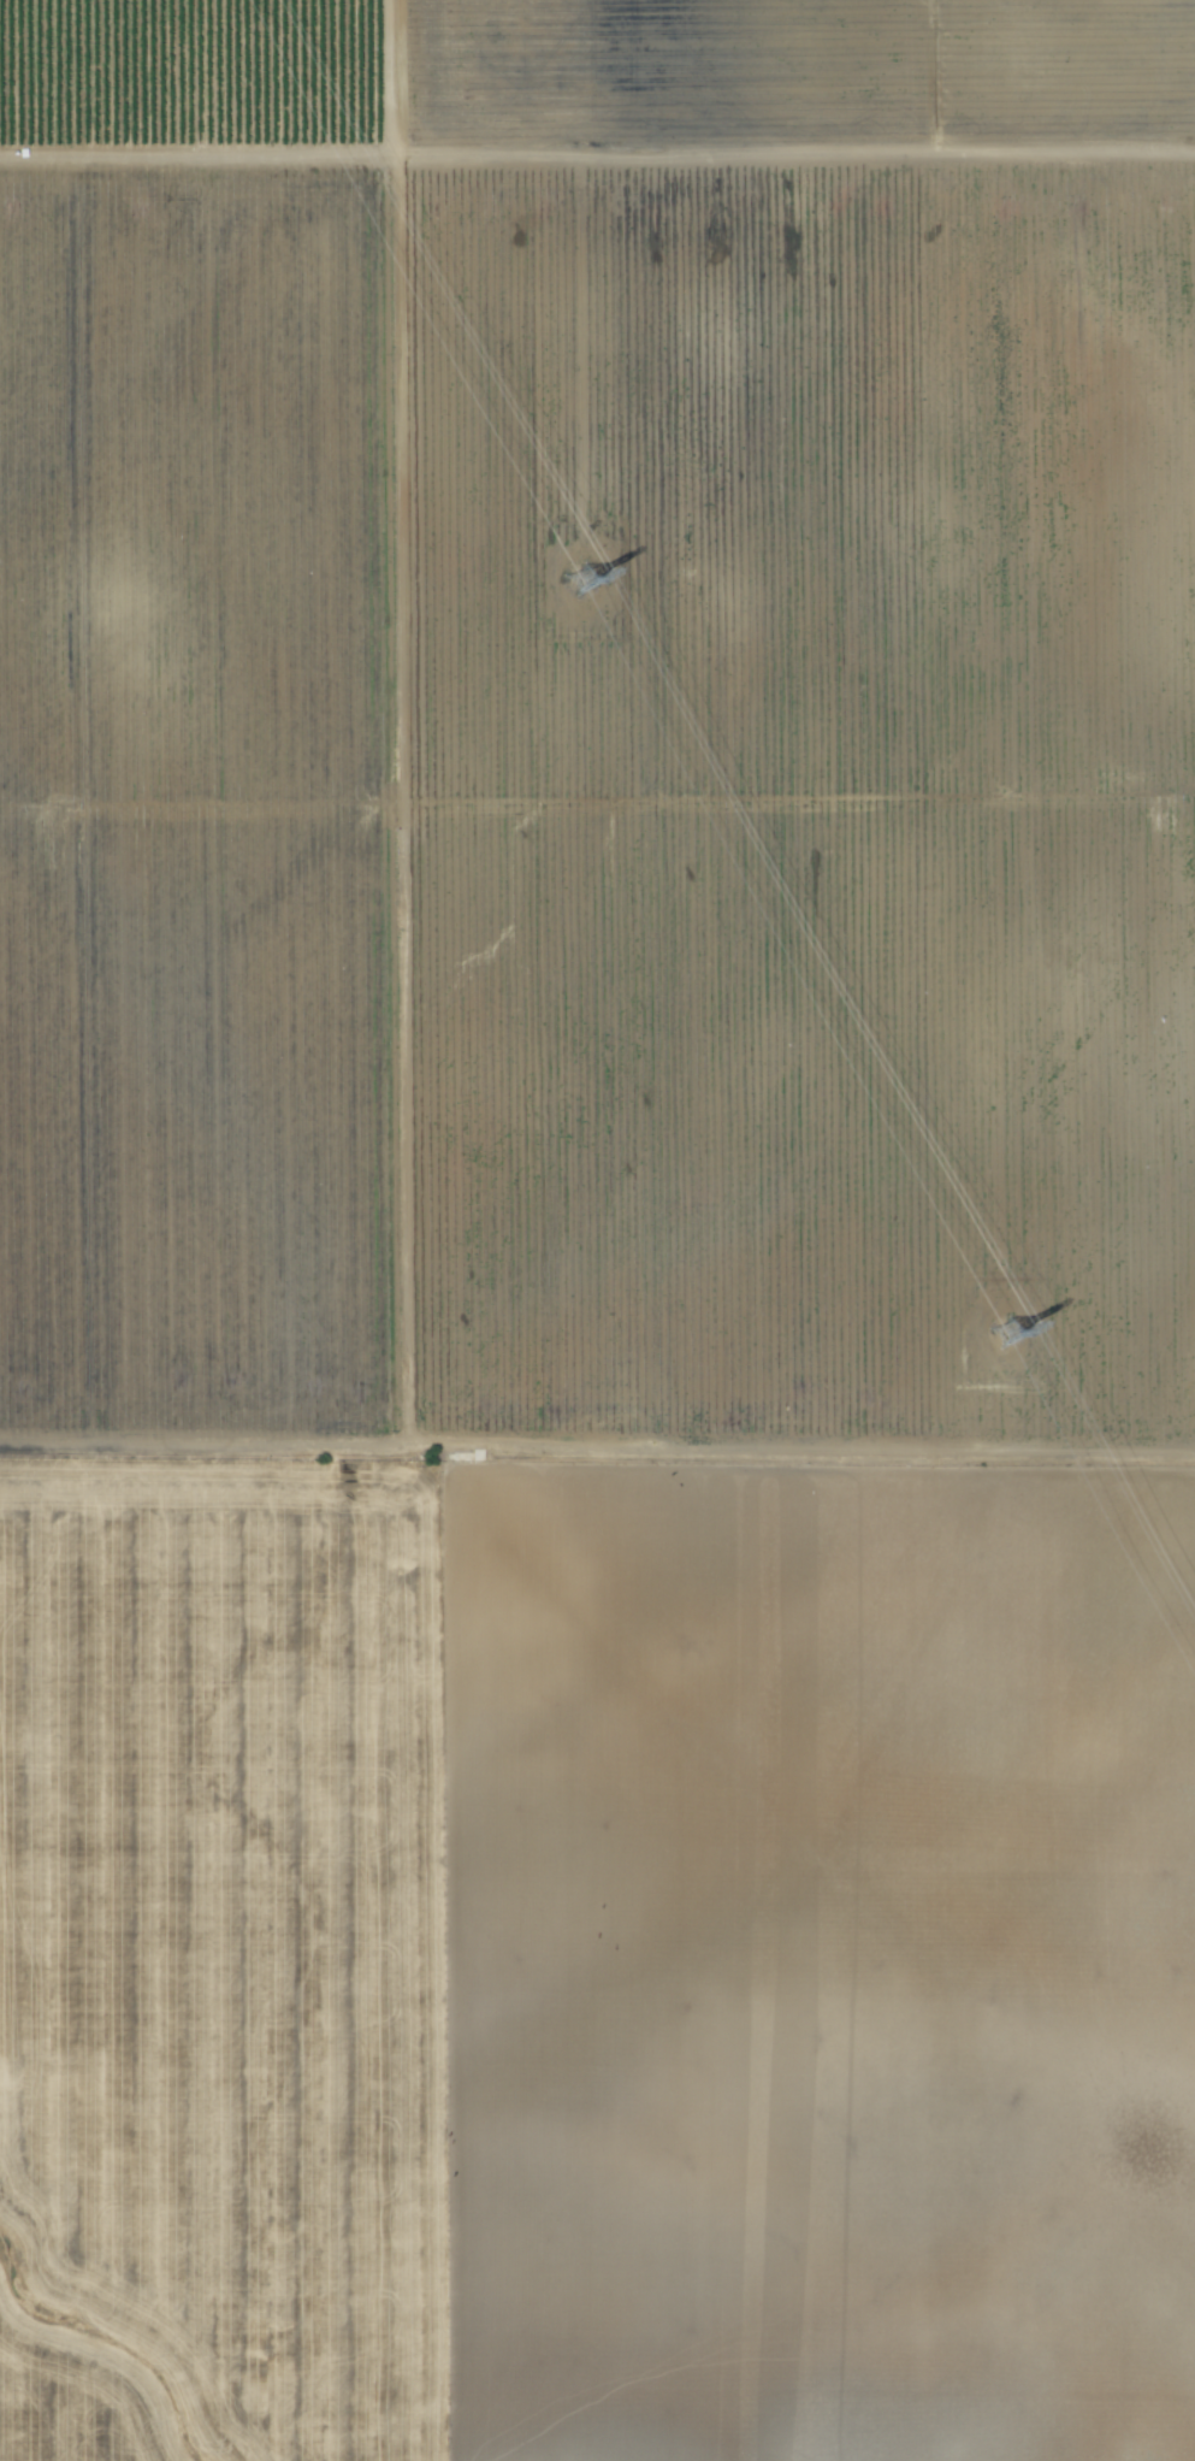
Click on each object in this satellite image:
road: (391, 78)
road: (597, 153)
power tower: (581, 586)
power tower: (1005, 1299)

